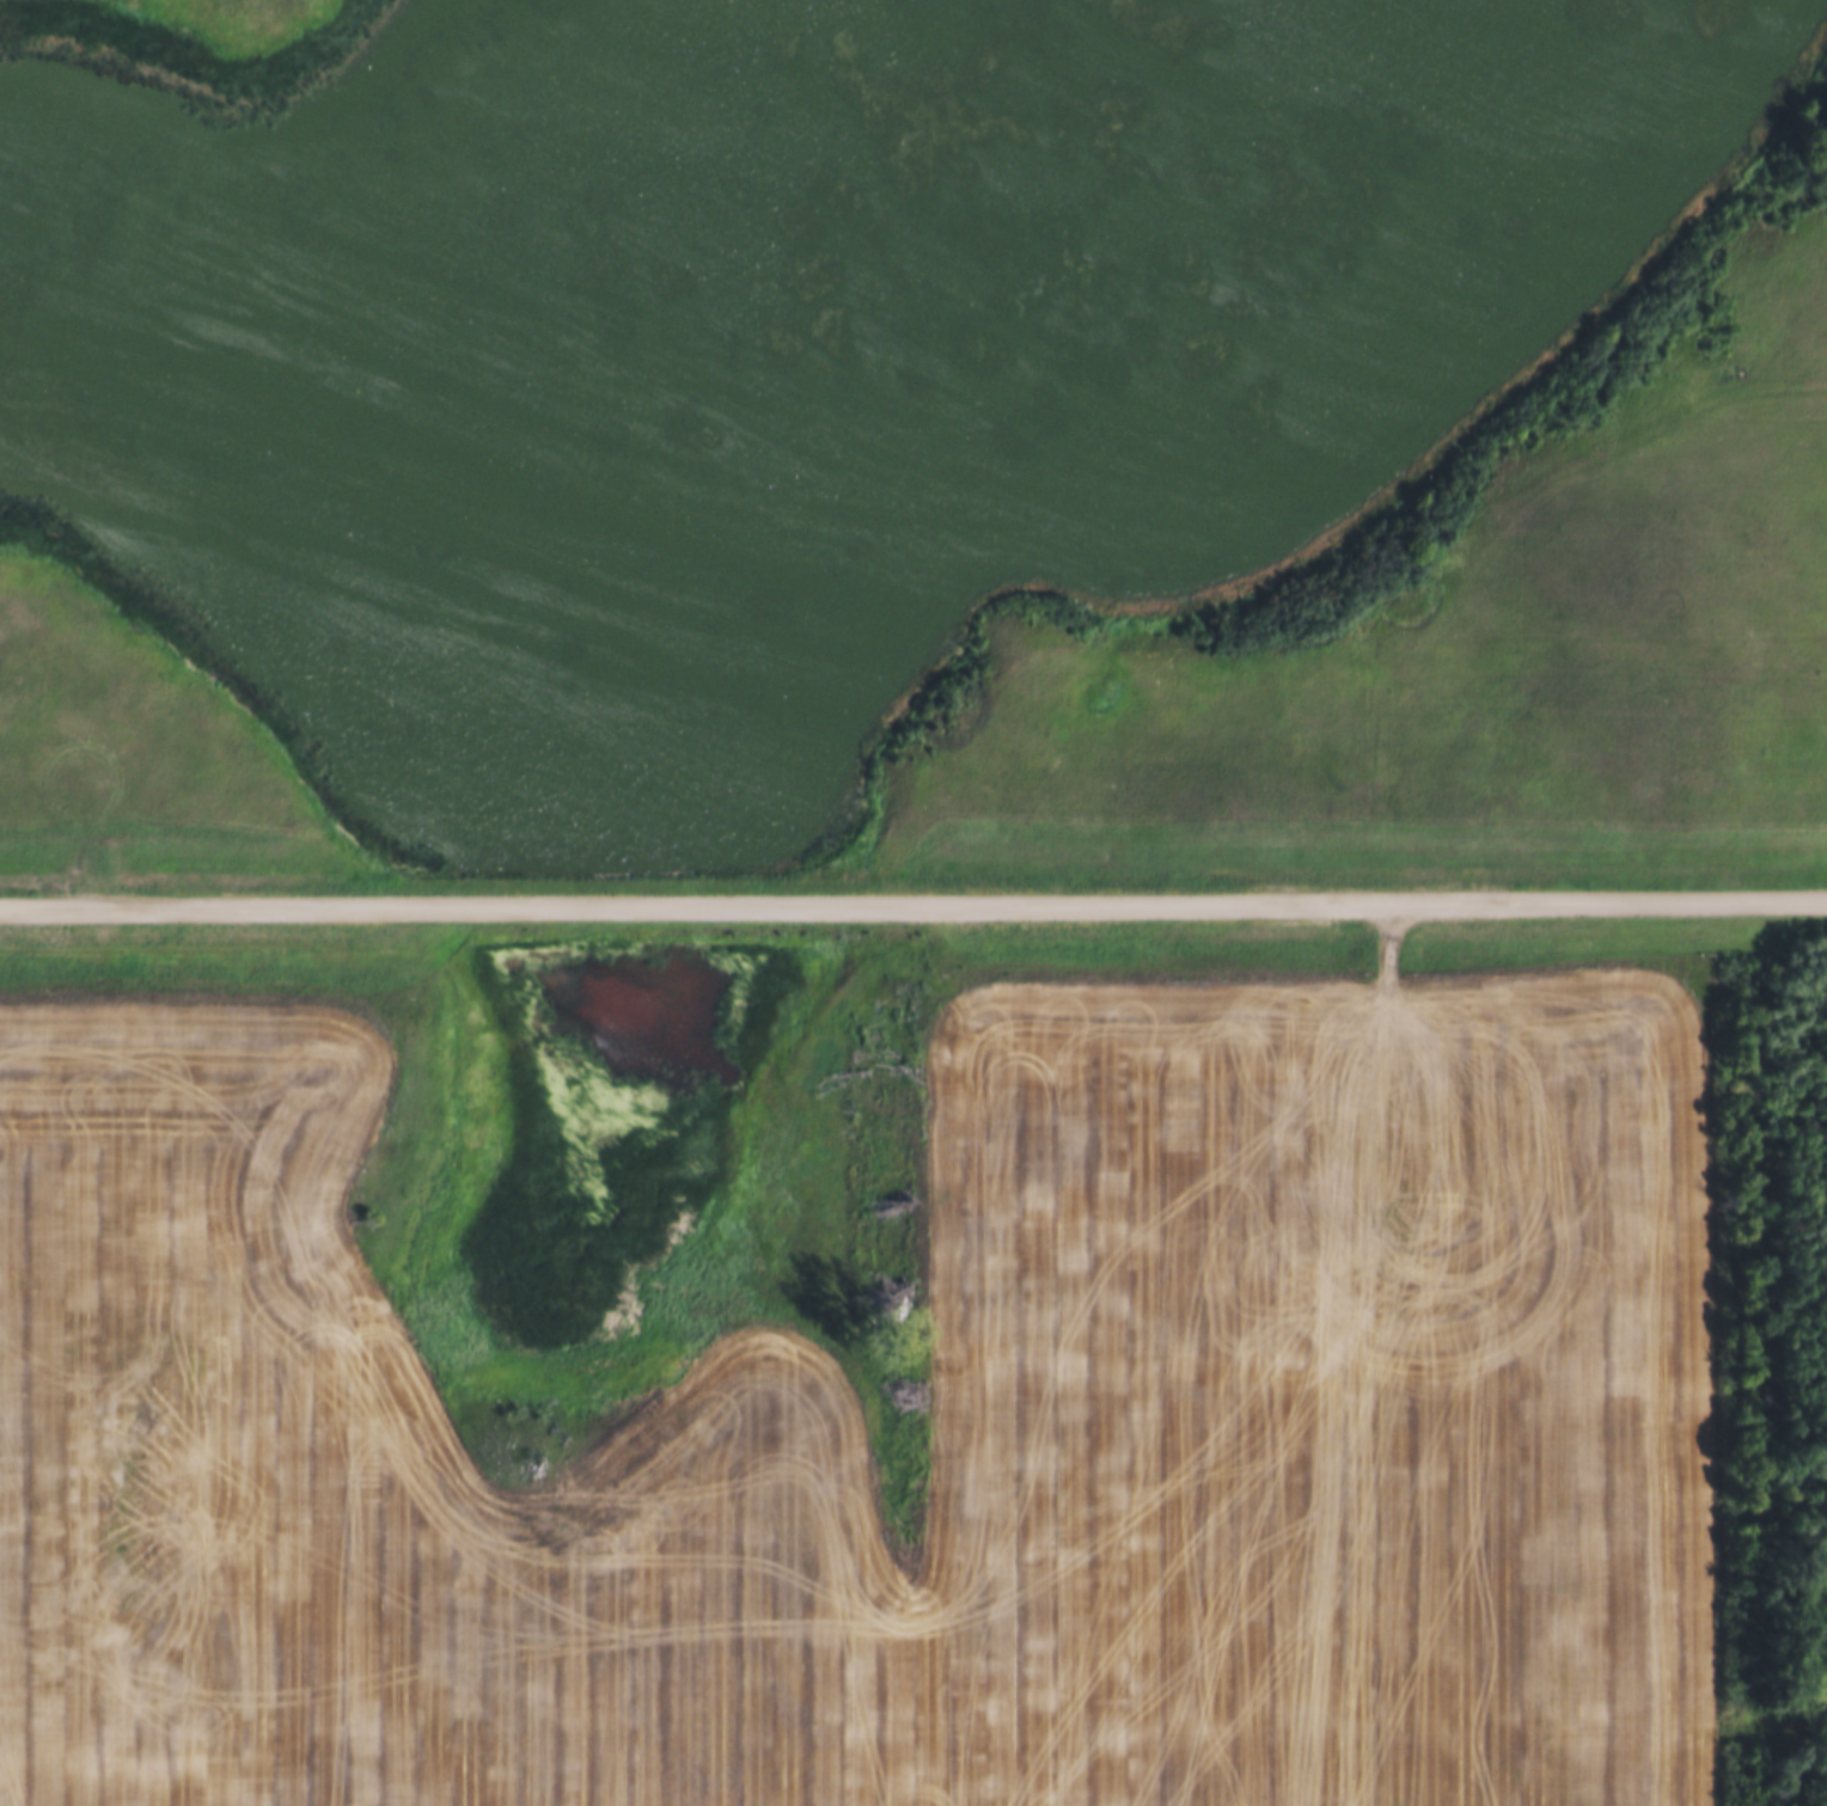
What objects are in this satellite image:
road: (914, 900)
road: (1386, 1353)

